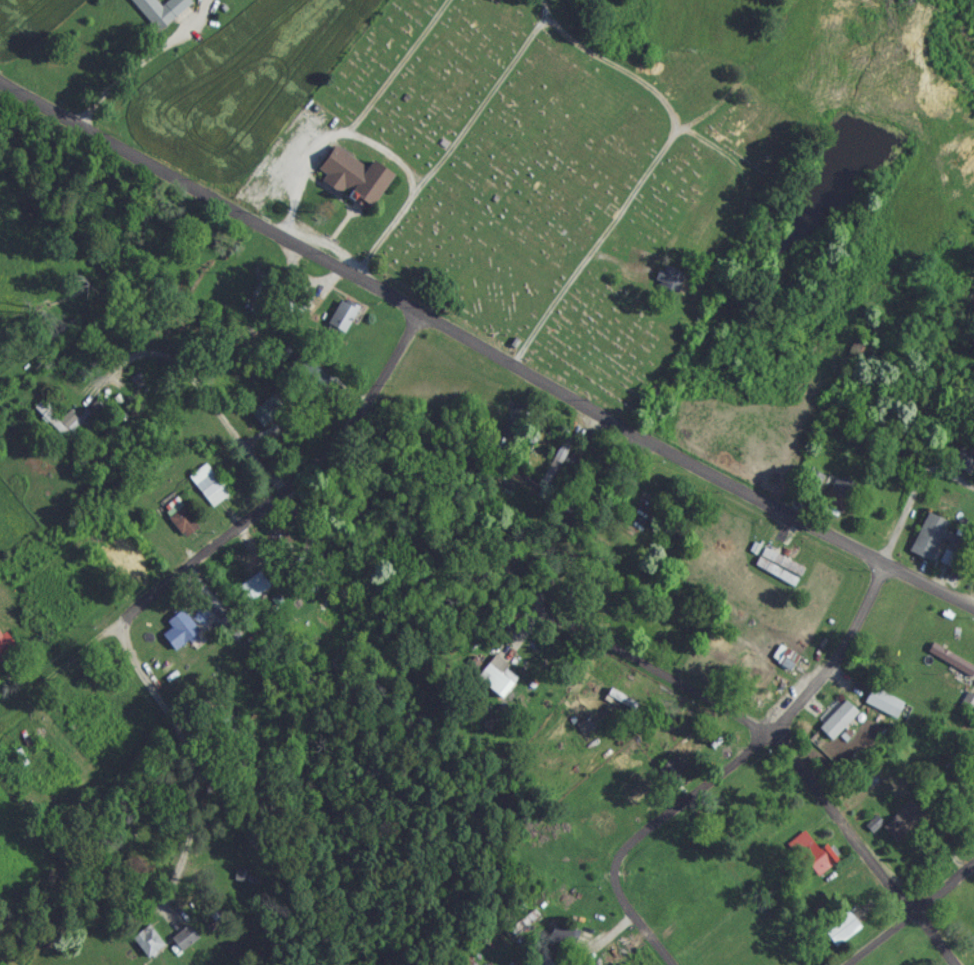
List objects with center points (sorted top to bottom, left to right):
building: (157, 15)
road: (141, 63)
road: (356, 123)
road: (451, 149)
road: (651, 171)
building: (371, 194)
building: (665, 284)
building: (339, 325)
road: (486, 355)
road: (205, 411)
building: (64, 428)
building: (963, 466)
road: (949, 482)
building: (207, 492)
road: (590, 521)
building: (178, 527)
road: (229, 535)
building: (927, 541)
building: (716, 553)
building: (127, 564)
building: (783, 570)
building: (253, 593)
road: (860, 606)
building: (177, 637)
building: (2, 650)
building: (785, 666)
building: (950, 669)
building: (495, 688)
road: (149, 691)
building: (619, 707)
building: (881, 710)
building: (835, 727)
building: (583, 734)
road: (783, 744)
building: (702, 748)
building: (973, 797)
building: (631, 800)
road: (689, 802)
building: (600, 834)
building: (810, 859)
road: (913, 917)
road: (637, 925)
building: (521, 930)
building: (839, 936)
building: (145, 948)
building: (465, 964)

